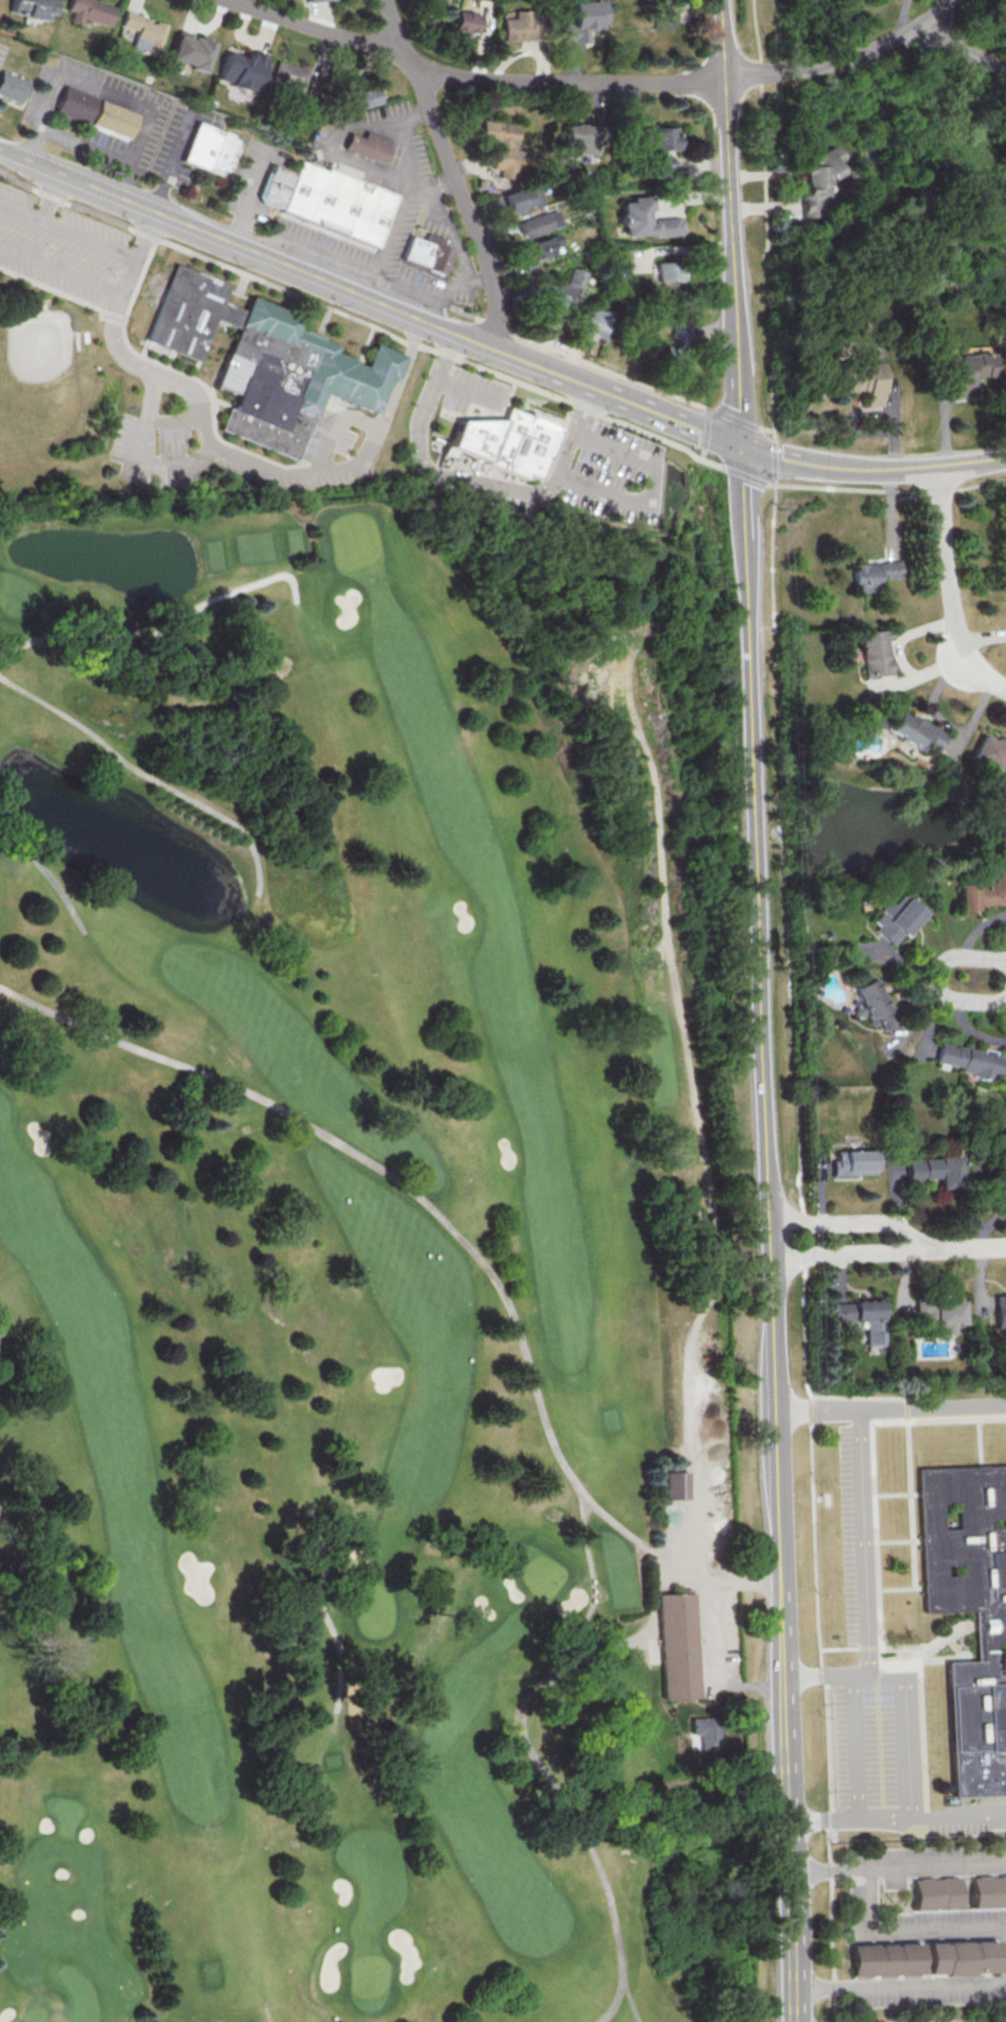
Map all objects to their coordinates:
building: (306, 0)
building: (321, 2)
building: (36, 9)
building: (95, 11)
building: (671, 14)
road: (904, 16)
road: (328, 17)
building: (471, 23)
road: (208, 27)
building: (525, 27)
building: (581, 27)
road: (490, 28)
road: (245, 30)
road: (272, 30)
building: (149, 32)
road: (965, 46)
road: (530, 49)
building: (193, 54)
road: (846, 56)
road: (583, 65)
building: (246, 70)
building: (290, 75)
road: (477, 76)
building: (15, 87)
building: (364, 97)
road: (605, 99)
building: (95, 112)
building: (581, 140)
building: (369, 146)
building: (211, 149)
building: (506, 149)
building: (662, 150)
road: (175, 164)
road: (709, 164)
road: (454, 169)
building: (815, 179)
road: (433, 187)
road: (700, 195)
road: (51, 199)
building: (525, 199)
building: (332, 201)
road: (20, 215)
building: (651, 222)
building: (539, 226)
road: (388, 244)
building: (549, 247)
road: (677, 249)
building: (420, 252)
building: (575, 277)
building: (672, 279)
road: (120, 291)
building: (548, 308)
road: (421, 318)
building: (592, 328)
road: (711, 330)
road: (770, 357)
building: (678, 359)
building: (268, 362)
road: (576, 365)
building: (861, 381)
road: (467, 392)
parking lot: (472, 392)
road: (716, 408)
road: (575, 428)
traffic signals: (742, 445)
building: (502, 447)
road: (422, 458)
road: (559, 460)
road: (927, 467)
road: (266, 469)
road: (750, 474)
parking lot: (616, 477)
road: (650, 490)
parking lot: (506, 499)
building: (872, 574)
road: (954, 590)
road: (162, 629)
building: (873, 653)
building: (913, 730)
building: (991, 752)
road: (147, 773)
road: (756, 839)
road: (41, 867)
building: (981, 893)
building: (895, 917)
road: (788, 941)
road: (934, 978)
building: (875, 1003)
building: (970, 1061)
building: (855, 1162)
building: (937, 1170)
building: (1001, 1183)
road: (989, 1184)
road: (430, 1209)
road: (984, 1209)
road: (859, 1224)
road: (996, 1227)
road: (972, 1249)
road: (856, 1253)
park: (361, 1271)
building: (1002, 1310)
building: (942, 1313)
building: (862, 1317)
road: (852, 1399)
road: (891, 1410)
road: (981, 1442)
road: (910, 1458)
road: (703, 1459)
building: (676, 1485)
road: (897, 1495)
road: (875, 1517)
parking lot: (859, 1534)
road: (899, 1542)
road: (867, 1582)
road: (901, 1592)
road: (592, 1597)
road: (24, 1607)
road: (325, 1616)
building: (990, 1629)
road: (707, 1635)
building: (679, 1647)
road: (931, 1652)
road: (882, 1659)
road: (876, 1675)
road: (823, 1710)
building: (707, 1733)
road: (922, 1738)
parking lot: (874, 1746)
road: (853, 1750)
road: (903, 1755)
road: (541, 1764)
road: (949, 1821)
parking lot: (968, 1821)
road: (841, 1825)
road: (791, 1850)
road: (827, 1866)
road: (865, 1892)
building: (989, 1892)
building: (936, 1895)
building: (927, 1959)
road: (901, 1984)
road: (310, 2002)
road: (632, 2002)
road: (269, 2014)

